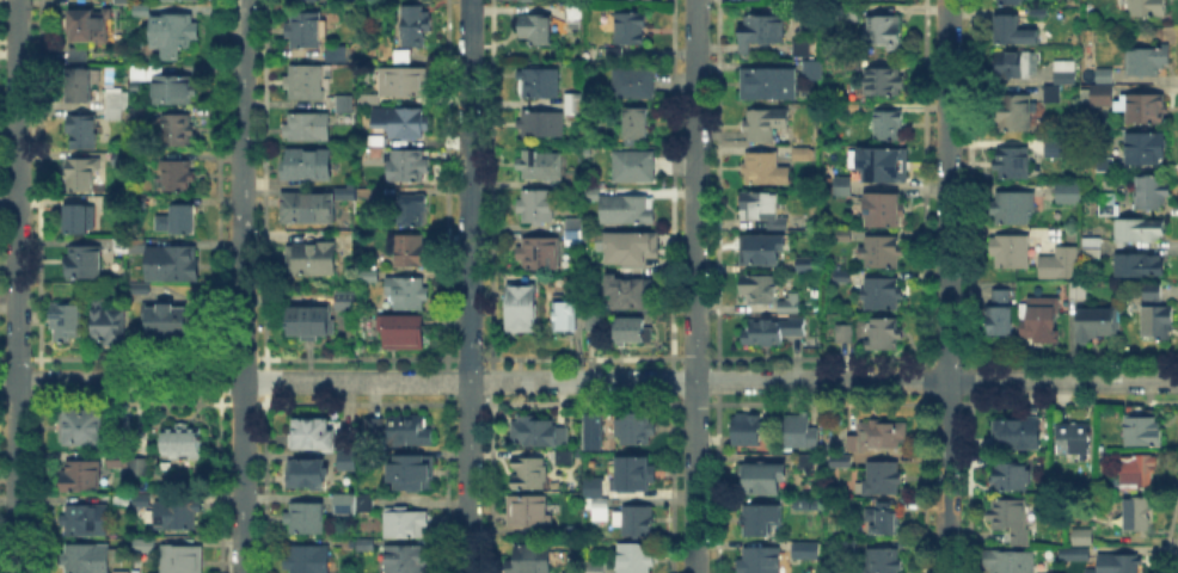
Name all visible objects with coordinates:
building: (189, 0)
building: (530, 1)
building: (124, 2)
building: (1011, 2)
building: (142, 10)
building: (1147, 10)
building: (576, 12)
building: (1038, 12)
building: (848, 13)
building: (92, 29)
building: (418, 29)
building: (632, 30)
building: (538, 31)
building: (762, 31)
building: (883, 32)
building: (1012, 32)
building: (306, 33)
building: (174, 35)
building: (803, 50)
building: (339, 55)
building: (80, 56)
building: (404, 57)
building: (1148, 61)
building: (1019, 66)
building: (148, 70)
building: (814, 70)
building: (1067, 72)
building: (1105, 78)
building: (307, 84)
building: (885, 84)
building: (541, 85)
building: (634, 85)
building: (769, 85)
building: (400, 86)
building: (81, 87)
building: (174, 91)
building: (1054, 95)
building: (1099, 95)
building: (577, 104)
building: (117, 105)
building: (346, 106)
building: (1147, 110)
building: (141, 111)
building: (1016, 117)
road: (8, 123)
building: (404, 123)
building: (765, 125)
building: (544, 127)
building: (639, 127)
building: (890, 127)
building: (309, 129)
building: (177, 130)
building: (85, 133)
road: (8, 137)
building: (1056, 148)
building: (1147, 150)
building: (804, 153)
building: (122, 161)
building: (1106, 164)
building: (542, 165)
building: (1014, 165)
building: (311, 166)
building: (885, 166)
building: (406, 167)
building: (634, 167)
building: (766, 168)
building: (84, 175)
building: (180, 178)
building: (575, 178)
building: (843, 186)
building: (348, 192)
building: (1153, 192)
building: (594, 193)
building: (1069, 195)
building: (139, 203)
building: (761, 205)
building: (311, 207)
building: (539, 209)
building: (1012, 209)
building: (885, 210)
building: (413, 211)
building: (628, 211)
building: (184, 220)
building: (79, 221)
building: (1140, 232)
building: (577, 234)
building: (843, 236)
building: (1093, 241)
building: (122, 246)
building: (632, 249)
building: (410, 251)
building: (767, 251)
building: (881, 252)
building: (1012, 252)
building: (1091, 253)
building: (542, 255)
building: (315, 260)
building: (86, 264)
building: (808, 264)
building: (1059, 264)
building: (1141, 266)
building: (174, 267)
building: (842, 277)
building: (374, 279)
road: (18, 286)
road: (244, 286)
road: (470, 286)
road: (695, 286)
road: (947, 286)
building: (1080, 289)
building: (142, 290)
building: (628, 291)
building: (761, 291)
building: (1154, 291)
building: (407, 294)
building: (882, 294)
building: (352, 304)
building: (792, 304)
building: (523, 310)
building: (1002, 315)
building: (566, 318)
building: (593, 320)
building: (166, 322)
building: (1043, 322)
building: (314, 324)
building: (1097, 324)
building: (1159, 324)
building: (69, 326)
building: (110, 326)
building: (404, 332)
building: (636, 333)
building: (772, 333)
building: (846, 334)
building: (885, 338)
road: (588, 381)
building: (370, 425)
building: (82, 429)
building: (378, 430)
building: (591, 430)
building: (412, 431)
building: (636, 431)
building: (749, 431)
building: (1145, 432)
building: (534, 433)
building: (802, 435)
building: (1020, 435)
building: (315, 437)
building: (879, 437)
building: (1078, 439)
building: (184, 444)
building: (118, 460)
building: (565, 460)
building: (808, 462)
building: (842, 463)
building: (350, 464)
building: (139, 468)
building: (1141, 472)
building: (415, 475)
building: (634, 475)
building: (308, 476)
building: (532, 476)
building: (84, 478)
building: (1014, 478)
building: (766, 479)
building: (884, 479)
building: (594, 483)
building: (121, 499)
building: (142, 503)
building: (367, 504)
building: (344, 505)
building: (803, 505)
building: (600, 507)
building: (528, 512)
building: (1141, 515)
building: (174, 517)
building: (1011, 517)
building: (87, 519)
building: (883, 519)
building: (308, 520)
building: (760, 520)
building: (406, 524)
building: (1086, 537)
building: (636, 541)
building: (847, 544)
building: (145, 548)
building: (803, 548)
building: (1076, 554)
building: (88, 560)
building: (308, 560)
building: (406, 560)
building: (530, 560)
building: (183, 561)
building: (760, 561)
building: (885, 562)
building: (1011, 562)
building: (1118, 565)
building: (595, 567)
building: (118, 571)

